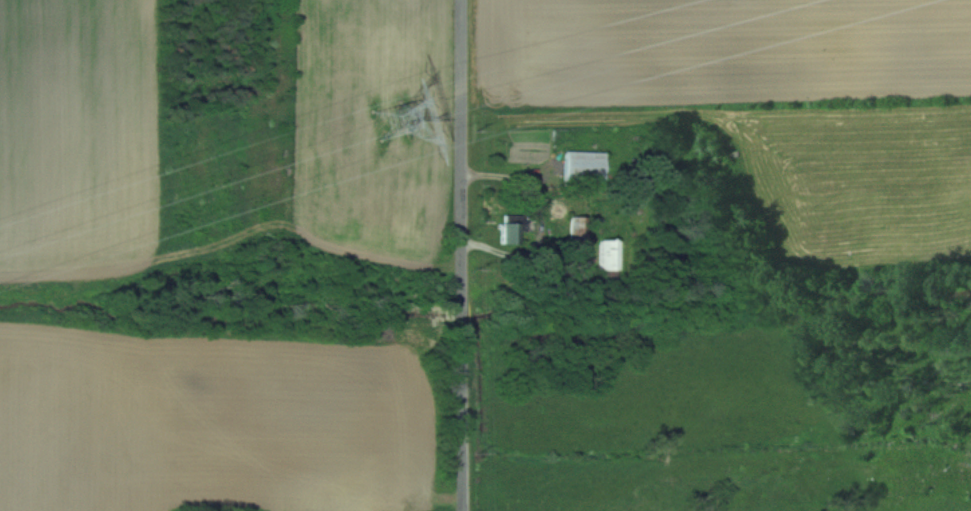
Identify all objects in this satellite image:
power tower: (392, 124)
building: (584, 166)
building: (509, 234)
road: (465, 255)
building: (608, 255)

